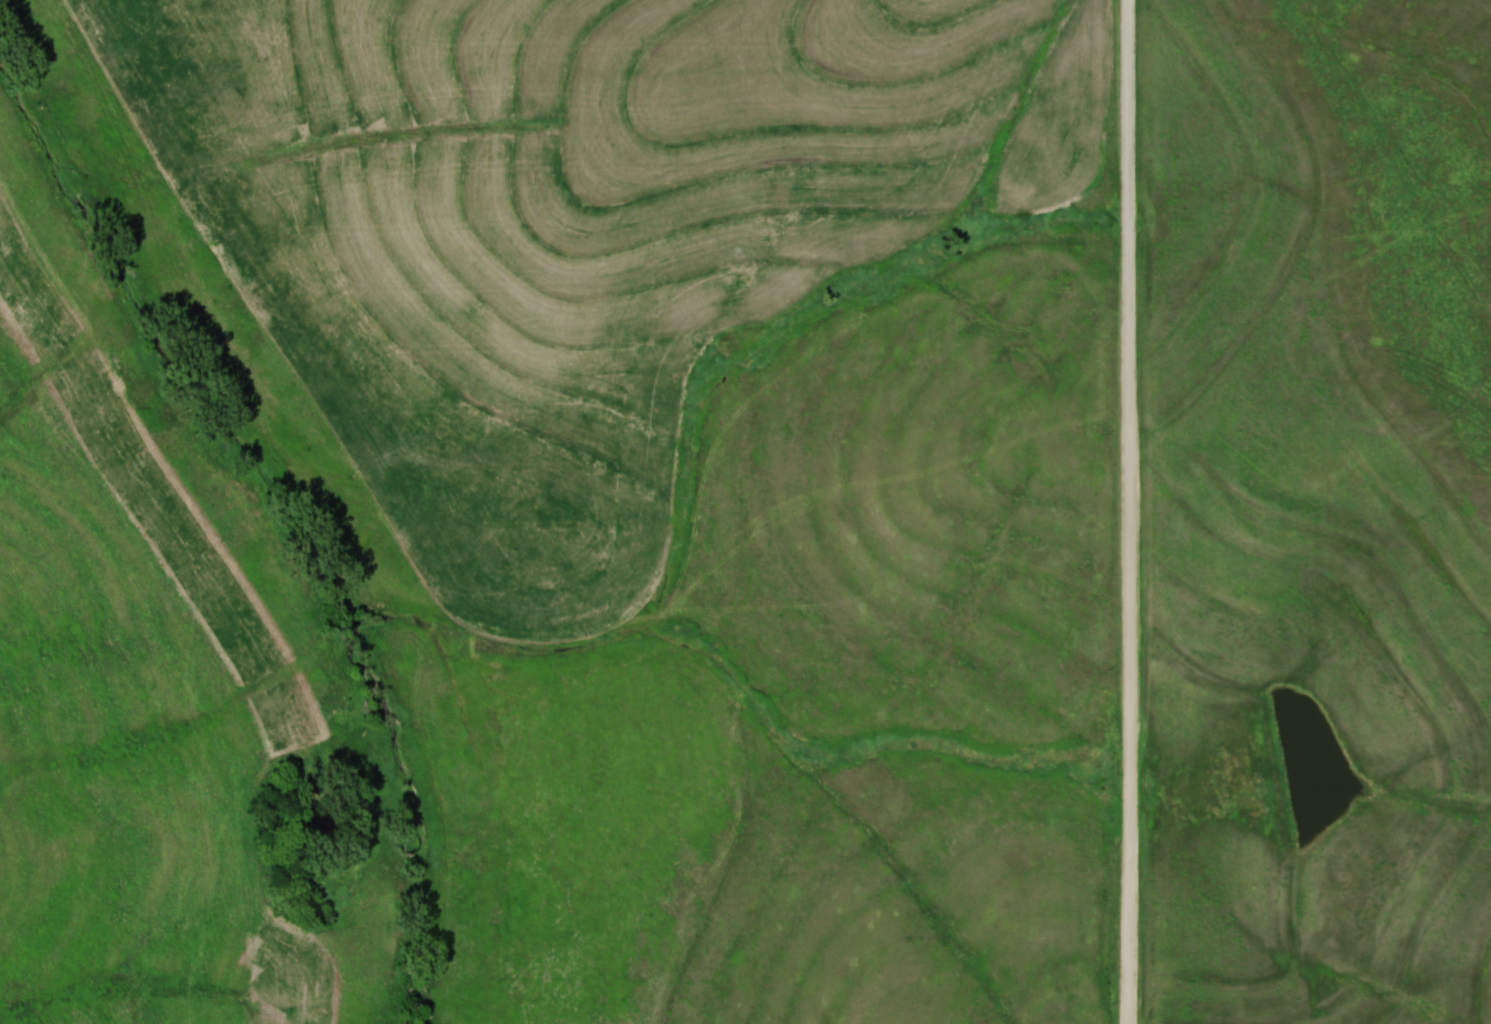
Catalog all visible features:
road: (1129, 512)

